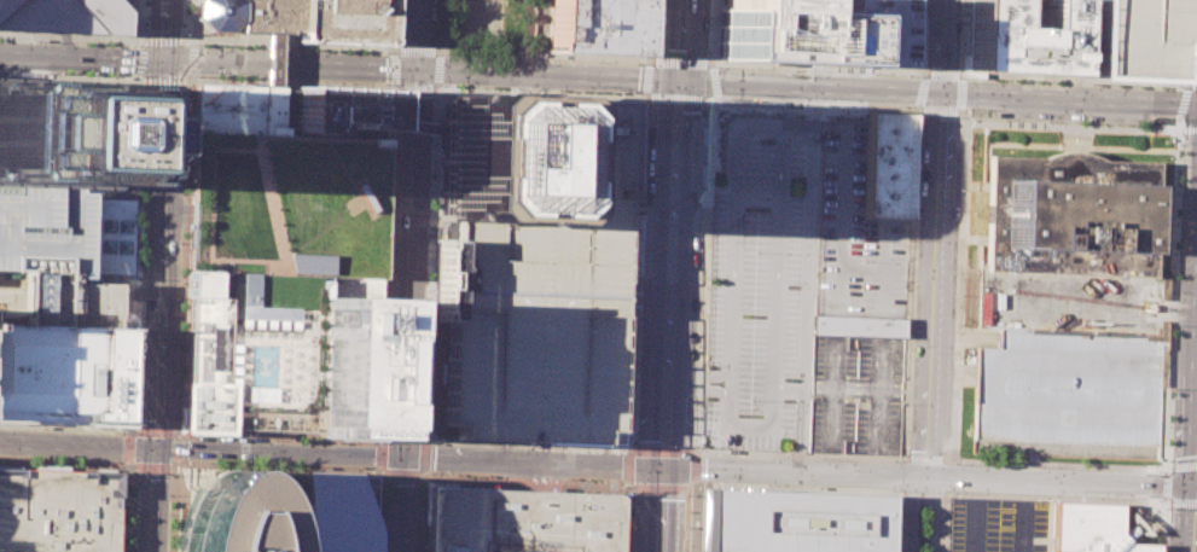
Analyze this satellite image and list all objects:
road: (931, 0)
street lamp: (1193, 4)
street lamp: (960, 7)
building: (249, 14)
building: (63, 16)
street lamp: (188, 16)
road: (463, 16)
street lamp: (396, 18)
road: (191, 19)
road: (135, 21)
building: (343, 21)
railway: (181, 24)
road: (391, 24)
road: (925, 25)
building: (594, 27)
road: (477, 29)
park: (486, 29)
building: (879, 30)
parking lot: (879, 30)
street lamp: (1192, 30)
road: (647, 31)
building: (781, 31)
street lamp: (184, 33)
road: (716, 34)
road: (279, 36)
road: (74, 37)
road: (540, 37)
building: (1021, 37)
road: (919, 39)
building: (1137, 39)
road: (185, 40)
road: (682, 40)
road: (964, 40)
parking lot: (1137, 40)
road: (164, 41)
road: (1189, 42)
street lamp: (196, 43)
road: (287, 43)
street lamp: (138, 45)
road: (143, 45)
street lamp: (229, 46)
street lamp: (261, 47)
street lamp: (291, 48)
road: (391, 48)
street lamp: (323, 50)
road: (407, 50)
road: (426, 50)
road: (1077, 50)
street lamp: (355, 51)
street lamp: (652, 51)
street lamp: (387, 52)
street lamp: (707, 52)
road: (440, 53)
street lamp: (444, 54)
road: (535, 57)
road: (190, 58)
road: (274, 59)
road: (83, 60)
road: (141, 60)
road: (553, 62)
street lamp: (598, 62)
road: (649, 62)
traffic signals: (167, 64)
road: (697, 64)
road: (393, 66)
street lamp: (717, 66)
road: (817, 66)
street lamp: (755, 69)
traffic signals: (418, 70)
road: (424, 70)
street lamp: (795, 71)
street lamp: (59, 72)
street lamp: (98, 75)
street lamp: (136, 75)
street lamp: (193, 75)
street lamp: (874, 75)
street lamp: (914, 75)
road: (926, 75)
road: (943, 76)
street lamp: (969, 76)
road: (72, 77)
road: (139, 77)
road: (187, 77)
road: (165, 79)
street lamp: (260, 79)
road: (646, 79)
street lamp: (1007, 80)
road: (1057, 80)
road: (1075, 80)
street lamp: (323, 81)
street lamp: (350, 81)
traffic signals: (681, 81)
street lamp: (1048, 81)
road: (289, 82)
road: (1097, 82)
street lamp: (1093, 83)
street lamp: (387, 85)
road: (493, 85)
road: (1186, 85)
street lamp: (442, 86)
street lamp: (480, 86)
road: (525, 86)
road: (536, 86)
street lamp: (1133, 86)
road: (1193, 86)
road: (394, 87)
street lamp: (1181, 87)
road: (435, 88)
street lamp: (510, 88)
street lamp: (558, 89)
street lamp: (143, 91)
street lamp: (595, 91)
road: (920, 91)
road: (541, 92)
road: (959, 93)
road: (939, 94)
traffic signals: (941, 95)
road: (645, 97)
railway: (146, 98)
road: (674, 98)
road: (708, 98)
street lamp: (399, 99)
road: (709, 101)
road: (1183, 101)
street lamp: (646, 104)
street lamp: (826, 105)
street lamp: (705, 106)
street lamp: (912, 108)
street lamp: (968, 108)
building: (237, 109)
building: (338, 109)
road: (918, 109)
road: (940, 110)
street lamp: (919, 118)
street lamp: (1005, 120)
street lamp: (1175, 120)
street lamp: (1050, 121)
road: (1181, 121)
road: (709, 122)
road: (1190, 122)
road: (403, 123)
street lamp: (1091, 123)
road: (1178, 123)
street lamp: (1129, 126)
road: (769, 127)
road: (139, 128)
road: (431, 128)
road: (797, 128)
building: (595, 132)
street lamp: (187, 133)
street lamp: (1181, 133)
building: (59, 134)
street lamp: (396, 134)
road: (711, 134)
road: (123, 138)
road: (640, 146)
street lamp: (794, 146)
road: (181, 149)
road: (708, 153)
street lamp: (396, 156)
building: (490, 157)
road: (123, 158)
road: (134, 158)
street lamp: (431, 159)
building: (887, 165)
street lamp: (141, 167)
road: (122, 174)
road: (432, 174)
street lamp: (186, 175)
street lamp: (644, 188)
street lamp: (960, 190)
street lamp: (430, 191)
road: (109, 193)
road: (134, 194)
road: (699, 194)
building: (285, 204)
park: (285, 204)
park: (285, 204)
street lamp: (394, 204)
street lamp: (140, 205)
road: (175, 205)
building: (1070, 215)
road: (174, 217)
road: (841, 220)
street lamp: (139, 226)
road: (675, 227)
parking lot: (854, 229)
road: (431, 232)
building: (108, 238)
road: (629, 239)
street lamp: (913, 239)
road: (935, 239)
street lamp: (182, 242)
street lamp: (139, 244)
street lamp: (428, 250)
street lamp: (755, 252)
road: (185, 255)
parking lot: (52, 257)
road: (133, 257)
building: (52, 258)
street lamp: (862, 260)
road: (388, 261)
road: (395, 265)
road: (883, 267)
street lamp: (391, 268)
road: (885, 271)
road: (627, 273)
road: (130, 274)
railway: (150, 275)
road: (157, 275)
railway: (169, 275)
road: (409, 275)
road: (640, 275)
street lamp: (640, 275)
street lamp: (698, 275)
road: (112, 278)
road: (132, 278)
street lamp: (138, 278)
parking lot: (754, 278)
building: (442, 280)
road: (807, 281)
road: (394, 290)
street lamp: (425, 290)
building: (351, 291)
road: (910, 291)
road: (646, 292)
street lamp: (955, 294)
road: (122, 297)
street lamp: (180, 298)
road: (143, 301)
road: (1170, 301)
road: (123, 306)
road: (646, 307)
building: (539, 312)
parking lot: (539, 312)
road: (129, 313)
road: (390, 313)
road: (393, 323)
building: (858, 325)
street lamp: (178, 336)
street lamp: (424, 341)
road: (429, 343)
street lamp: (912, 344)
building: (252, 350)
road: (958, 360)
street lamp: (637, 361)
road: (428, 362)
building: (348, 367)
street lamp: (388, 368)
road: (618, 370)
road: (693, 370)
building: (62, 373)
road: (643, 373)
road: (698, 374)
road: (669, 379)
street lamp: (175, 382)
road: (727, 382)
road: (698, 385)
road: (638, 387)
road: (669, 388)
road: (646, 389)
road: (788, 389)
building: (1068, 393)
parking garage: (1068, 393)
street lamp: (422, 396)
street lamp: (952, 397)
street lamp: (749, 400)
road: (698, 411)
street lamp: (387, 414)
street lamp: (174, 418)
street lamp: (130, 420)
road: (750, 423)
road: (66, 426)
road: (281, 428)
street lamp: (420, 429)
road: (667, 429)
road: (152, 431)
road: (280, 434)
road: (178, 435)
road: (428, 435)
road: (396, 436)
road: (412, 436)
road: (423, 436)
road: (425, 438)
street lamp: (274, 440)
road: (380, 440)
street lamp: (307, 441)
road: (75, 442)
street lamp: (343, 442)
street lamp: (373, 442)
street lamp: (633, 442)
street lamp: (693, 444)
traffic signals: (151, 446)
road: (513, 446)
road: (626, 446)
road: (176, 447)
street lamp: (530, 447)
road: (124, 448)
road: (471, 448)
street lamp: (942, 448)
road: (631, 449)
road: (699, 449)
road: (275, 451)
road: (504, 451)
road: (1195, 451)
road: (545, 452)
road: (557, 452)
road: (571, 452)
road: (746, 452)
road: (379, 454)
road: (424, 454)
traffic signals: (402, 457)
road: (453, 458)
road: (784, 458)
street lamp: (821, 458)
street lamp: (42, 460)
street lamp: (893, 460)
street lamp: (1168, 460)
road: (524, 461)
road: (551, 463)
street lamp: (955, 463)
street lamp: (86, 464)
road: (610, 465)
road: (1183, 465)
road: (278, 466)
road: (65, 467)
road: (150, 467)
road: (379, 467)
traffic signals: (666, 467)
road: (172, 469)
road: (1166, 469)
street lamp: (130, 471)
road: (383, 471)
street lamp: (1157, 471)
street lamp: (170, 473)
road: (401, 475)
street lamp: (466, 475)
road: (419, 476)
street lamp: (382, 477)
road: (548, 477)
road: (929, 478)
street lamp: (571, 480)
road: (698, 480)
road: (524, 481)
road: (698, 484)
road: (1166, 484)
traffic signals: (1193, 484)
road: (1195, 484)
street lamp: (773, 486)
road: (626, 487)
road: (261, 488)
road: (690, 488)
street lamp: (893, 490)
street lamp: (629, 492)
street lamp: (955, 492)
road: (931, 493)
street lamp: (686, 495)
road: (1162, 502)
road: (1183, 502)
road: (169, 504)
road: (173, 504)
road: (123, 505)
road: (120, 506)
street lamp: (1166, 506)
road: (377, 509)
road: (662, 509)
road: (624, 510)
building: (57, 511)
road: (422, 511)
road: (910, 513)
building: (331, 515)
road: (902, 515)
road: (937, 515)
road: (976, 515)
road: (693, 516)
road: (1023, 516)
building: (226, 517)
road: (1191, 517)
road: (624, 519)
street lamp: (380, 521)
road: (420, 521)
building: (522, 521)
building: (792, 521)
road: (168, 523)
parking lot: (998, 525)
road: (1161, 527)
building: (1091, 529)
street lamp: (169, 534)
road: (168, 542)
street lamp: (1163, 542)
road: (374, 550)
street lamp: (124, 551)

